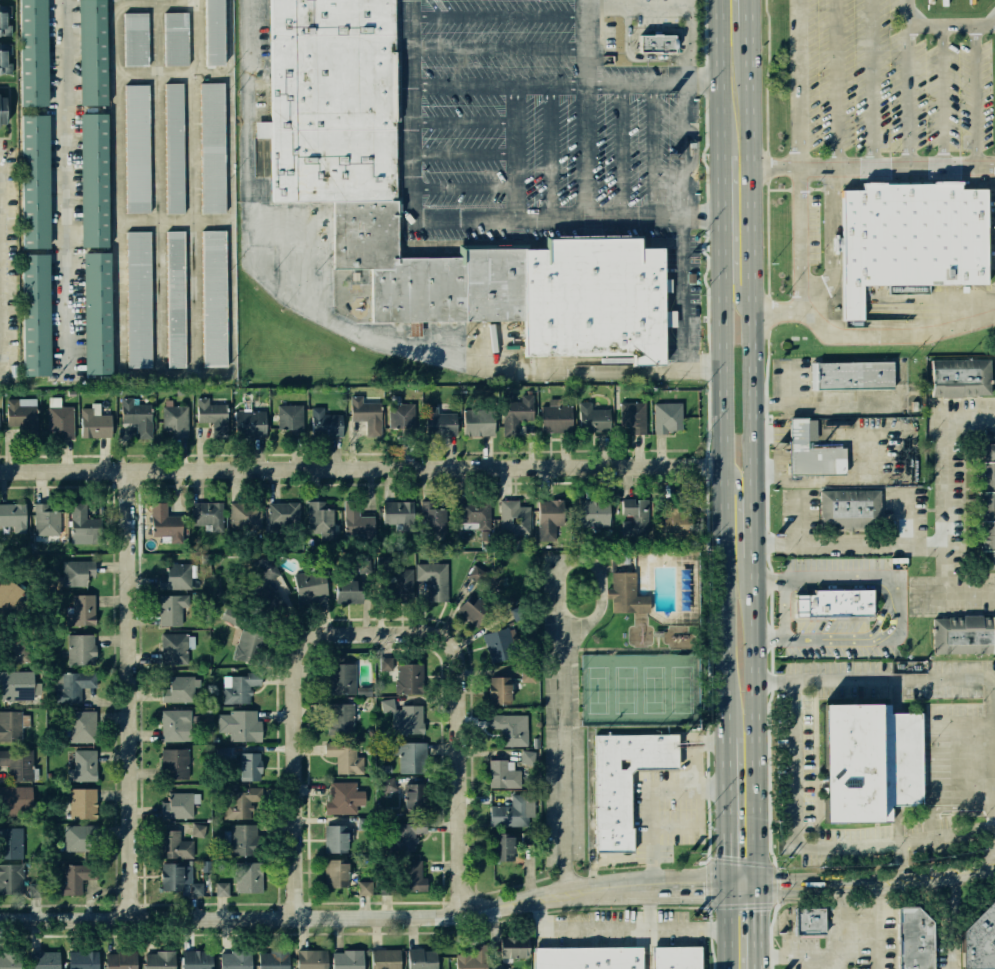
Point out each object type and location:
road: (688, 3)
road: (499, 17)
building: (5, 20)
road: (939, 25)
building: (211, 32)
building: (135, 39)
building: (176, 39)
building: (649, 42)
road: (499, 49)
building: (34, 52)
building: (95, 52)
road: (635, 55)
building: (5, 58)
road: (185, 70)
road: (836, 83)
road: (872, 83)
road: (564, 84)
road: (942, 94)
road: (975, 94)
road: (908, 95)
building: (334, 101)
road: (590, 110)
building: (4, 111)
road: (461, 121)
building: (137, 148)
building: (174, 148)
building: (212, 148)
road: (621, 148)
road: (653, 148)
road: (551, 149)
road: (513, 150)
road: (462, 152)
road: (872, 166)
building: (96, 179)
road: (60, 181)
building: (36, 182)
road: (160, 187)
road: (197, 187)
road: (462, 187)
road: (703, 213)
road: (597, 214)
road: (120, 216)
road: (186, 218)
building: (912, 239)
road: (832, 244)
road: (797, 258)
road: (4, 265)
building: (431, 272)
road: (734, 281)
road: (686, 290)
building: (214, 298)
building: (599, 298)
building: (138, 299)
building: (175, 299)
road: (774, 310)
building: (99, 312)
building: (35, 313)
road: (345, 329)
building: (851, 377)
building: (960, 378)
road: (790, 385)
road: (820, 408)
building: (516, 413)
building: (212, 414)
building: (366, 414)
building: (22, 415)
building: (137, 415)
building: (291, 416)
building: (402, 416)
building: (595, 416)
building: (633, 417)
building: (175, 418)
building: (556, 418)
building: (668, 418)
building: (60, 420)
building: (441, 422)
building: (95, 423)
building: (327, 423)
building: (478, 423)
building: (251, 424)
building: (812, 454)
road: (869, 456)
road: (361, 469)
road: (944, 478)
road: (810, 479)
road: (722, 484)
road: (752, 484)
road: (737, 497)
building: (986, 505)
building: (850, 513)
building: (208, 514)
building: (399, 514)
building: (594, 515)
building: (14, 516)
building: (245, 516)
building: (474, 516)
building: (514, 516)
building: (635, 516)
building: (283, 517)
building: (432, 517)
building: (319, 518)
building: (677, 518)
building: (552, 519)
road: (907, 519)
building: (46, 520)
building: (358, 521)
road: (800, 521)
building: (166, 522)
building: (85, 523)
road: (848, 544)
building: (365, 565)
building: (266, 567)
building: (76, 572)
building: (477, 573)
building: (177, 576)
road: (882, 577)
building: (433, 580)
road: (556, 585)
road: (818, 585)
building: (309, 587)
building: (401, 587)
building: (349, 591)
road: (958, 591)
building: (624, 593)
building: (8, 596)
building: (269, 601)
building: (834, 603)
building: (475, 608)
building: (83, 609)
building: (172, 609)
road: (784, 611)
building: (232, 616)
road: (887, 616)
road: (653, 634)
road: (657, 634)
building: (959, 634)
road: (768, 637)
road: (827, 637)
road: (655, 641)
park: (642, 642)
building: (500, 645)
building: (251, 647)
building: (16, 648)
building: (81, 648)
building: (173, 648)
road: (615, 649)
road: (660, 649)
building: (387, 663)
building: (528, 674)
building: (410, 679)
building: (342, 680)
road: (874, 681)
building: (17, 684)
building: (71, 684)
road: (815, 686)
building: (241, 687)
building: (501, 687)
building: (179, 688)
park: (637, 690)
building: (366, 691)
road: (133, 695)
road: (897, 696)
road: (461, 702)
building: (387, 704)
building: (340, 718)
road: (959, 718)
building: (409, 720)
parking lot: (558, 723)
building: (174, 724)
road: (960, 724)
building: (241, 725)
building: (10, 726)
building: (83, 726)
building: (511, 727)
road: (960, 731)
road: (960, 738)
road: (959, 748)
road: (959, 754)
building: (343, 756)
building: (410, 756)
building: (527, 757)
road: (815, 759)
road: (959, 760)
road: (800, 761)
road: (810, 761)
building: (870, 761)
building: (174, 763)
building: (17, 764)
building: (83, 765)
building: (250, 767)
road: (960, 767)
building: (385, 769)
road: (809, 771)
road: (799, 772)
road: (994, 773)
road: (959, 774)
building: (503, 775)
road: (300, 779)
building: (626, 779)
road: (959, 781)
building: (388, 784)
road: (960, 787)
road: (800, 794)
road: (810, 794)
road: (960, 794)
building: (417, 796)
building: (343, 798)
building: (16, 801)
building: (241, 801)
building: (81, 803)
building: (178, 806)
road: (950, 807)
building: (512, 810)
road: (695, 811)
road: (650, 815)
building: (365, 824)
road: (897, 825)
road: (563, 828)
building: (198, 830)
building: (408, 832)
road: (816, 837)
building: (80, 838)
building: (337, 838)
building: (243, 840)
building: (12, 842)
building: (176, 844)
road: (814, 845)
building: (505, 848)
road: (741, 862)
road: (902, 862)
road: (973, 871)
building: (337, 873)
building: (177, 875)
building: (411, 876)
road: (940, 876)
building: (75, 877)
building: (249, 877)
building: (11, 879)
road: (916, 880)
road: (710, 883)
road: (774, 884)
traffic signals: (757, 887)
building: (222, 888)
building: (366, 888)
traffic signals: (726, 888)
building: (36, 890)
building: (196, 890)
road: (951, 891)
road: (933, 896)
road: (742, 905)
road: (452, 914)
building: (805, 920)
road: (770, 924)
road: (876, 926)
building: (977, 934)
building: (911, 937)
road: (949, 937)
building: (513, 946)
road: (646, 949)
road: (832, 955)
road: (771, 956)
building: (587, 957)
building: (676, 957)
building: (197, 958)
building: (472, 958)
building: (84, 959)
building: (121, 959)
building: (235, 959)
building: (273, 959)
building: (312, 959)
building: (347, 959)
building: (384, 959)
building: (422, 959)
building: (47, 960)
building: (159, 960)
building: (10, 961)
road: (771, 967)

